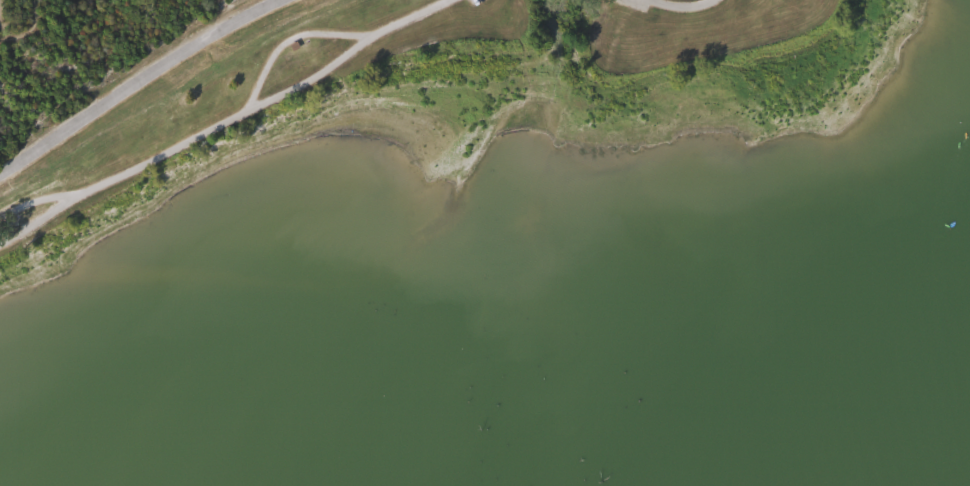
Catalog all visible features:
parking lot: (472, 1)
parking lot: (633, 3)
road: (677, 6)
road: (27, 30)
road: (286, 41)
road: (132, 80)
road: (222, 123)
road: (35, 200)

